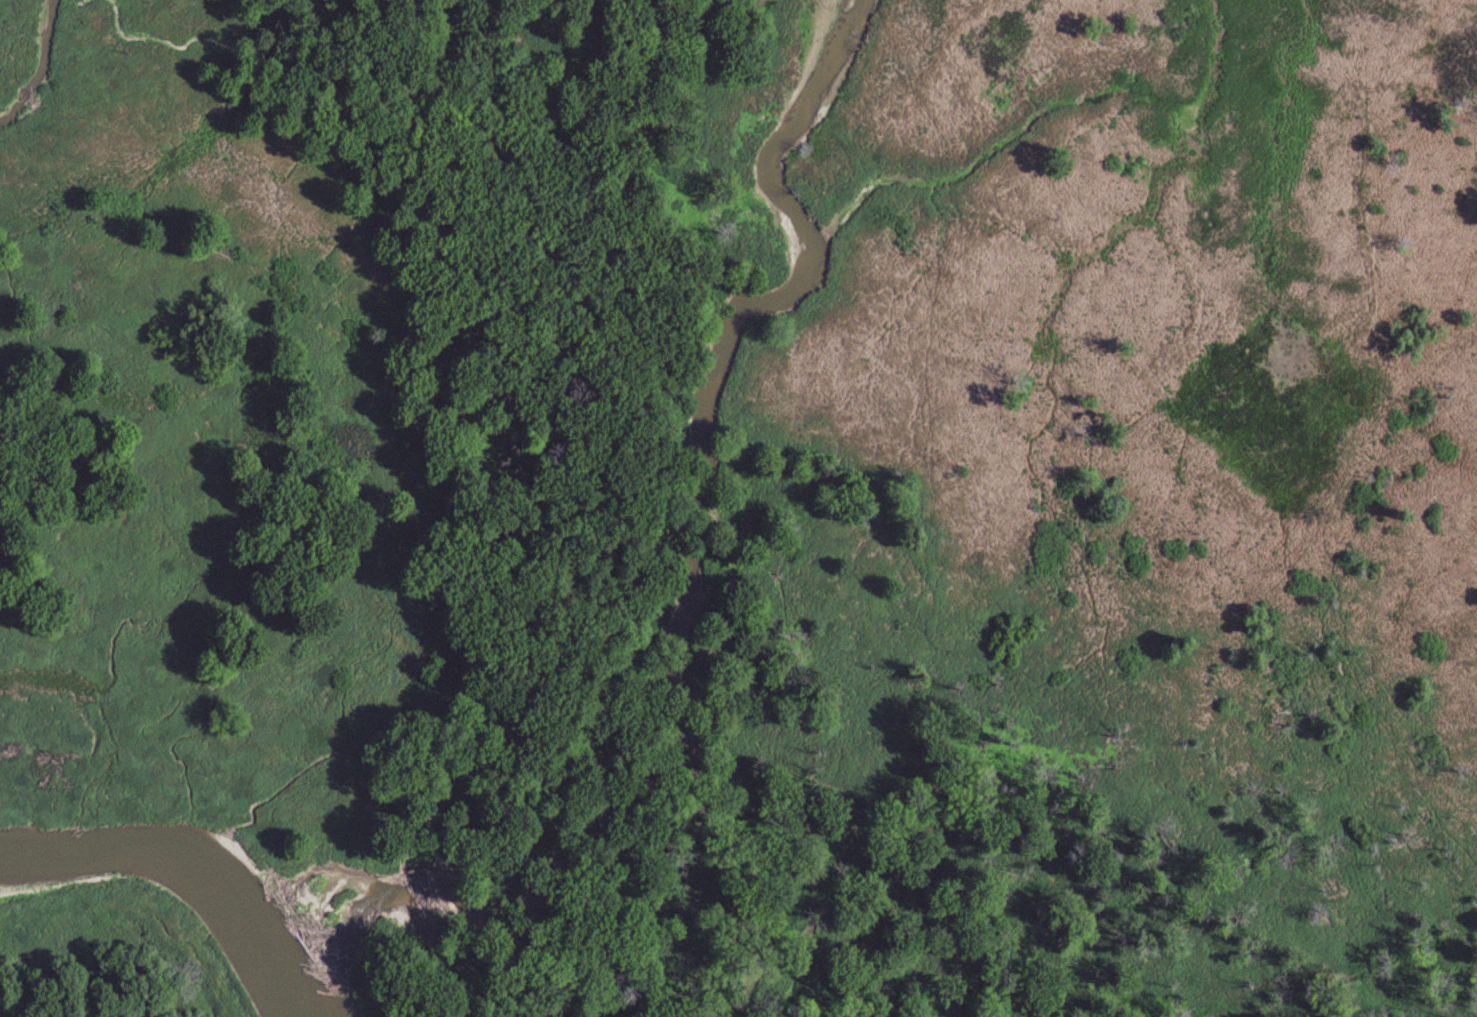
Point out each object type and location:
river: (191, 865)

